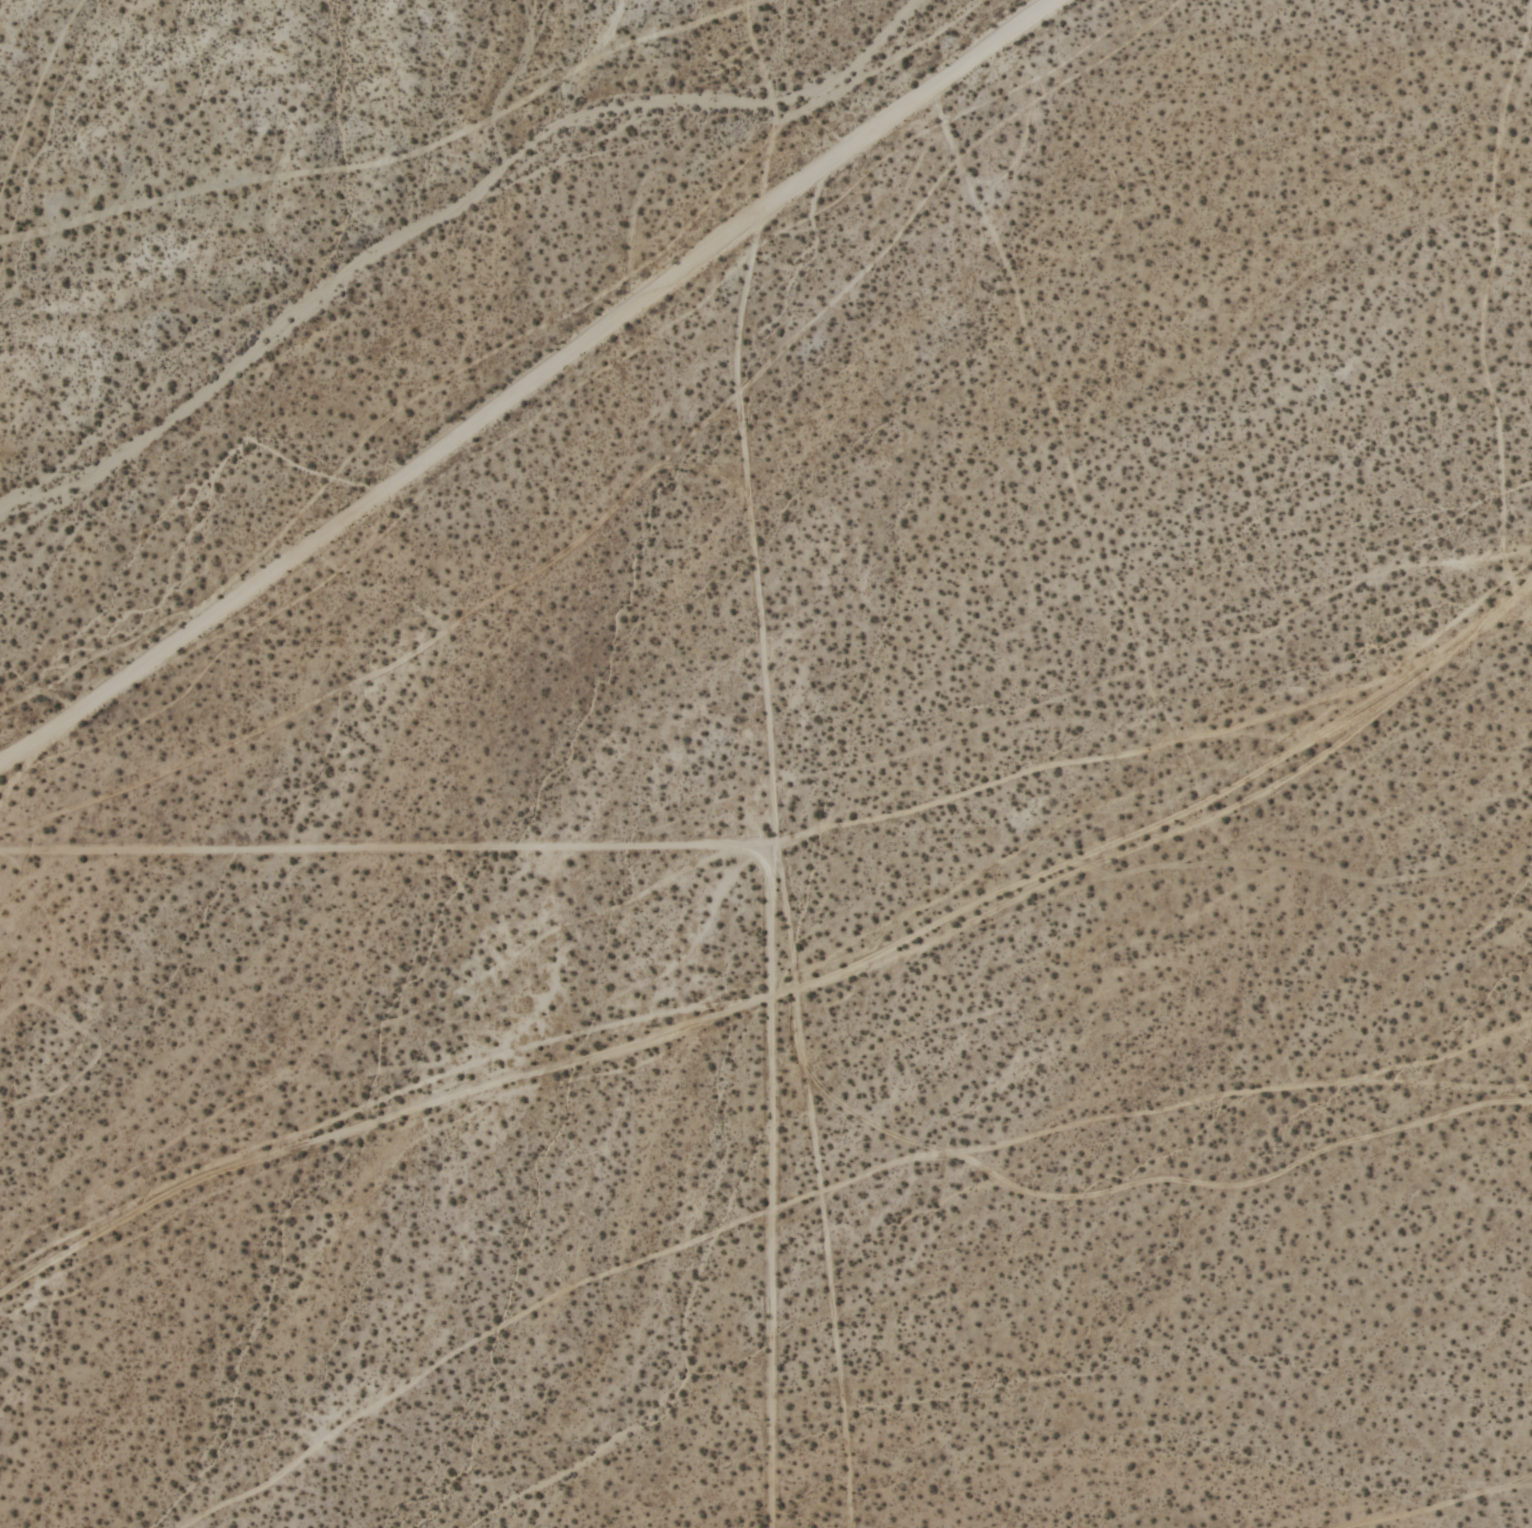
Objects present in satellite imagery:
road: (529, 382)

